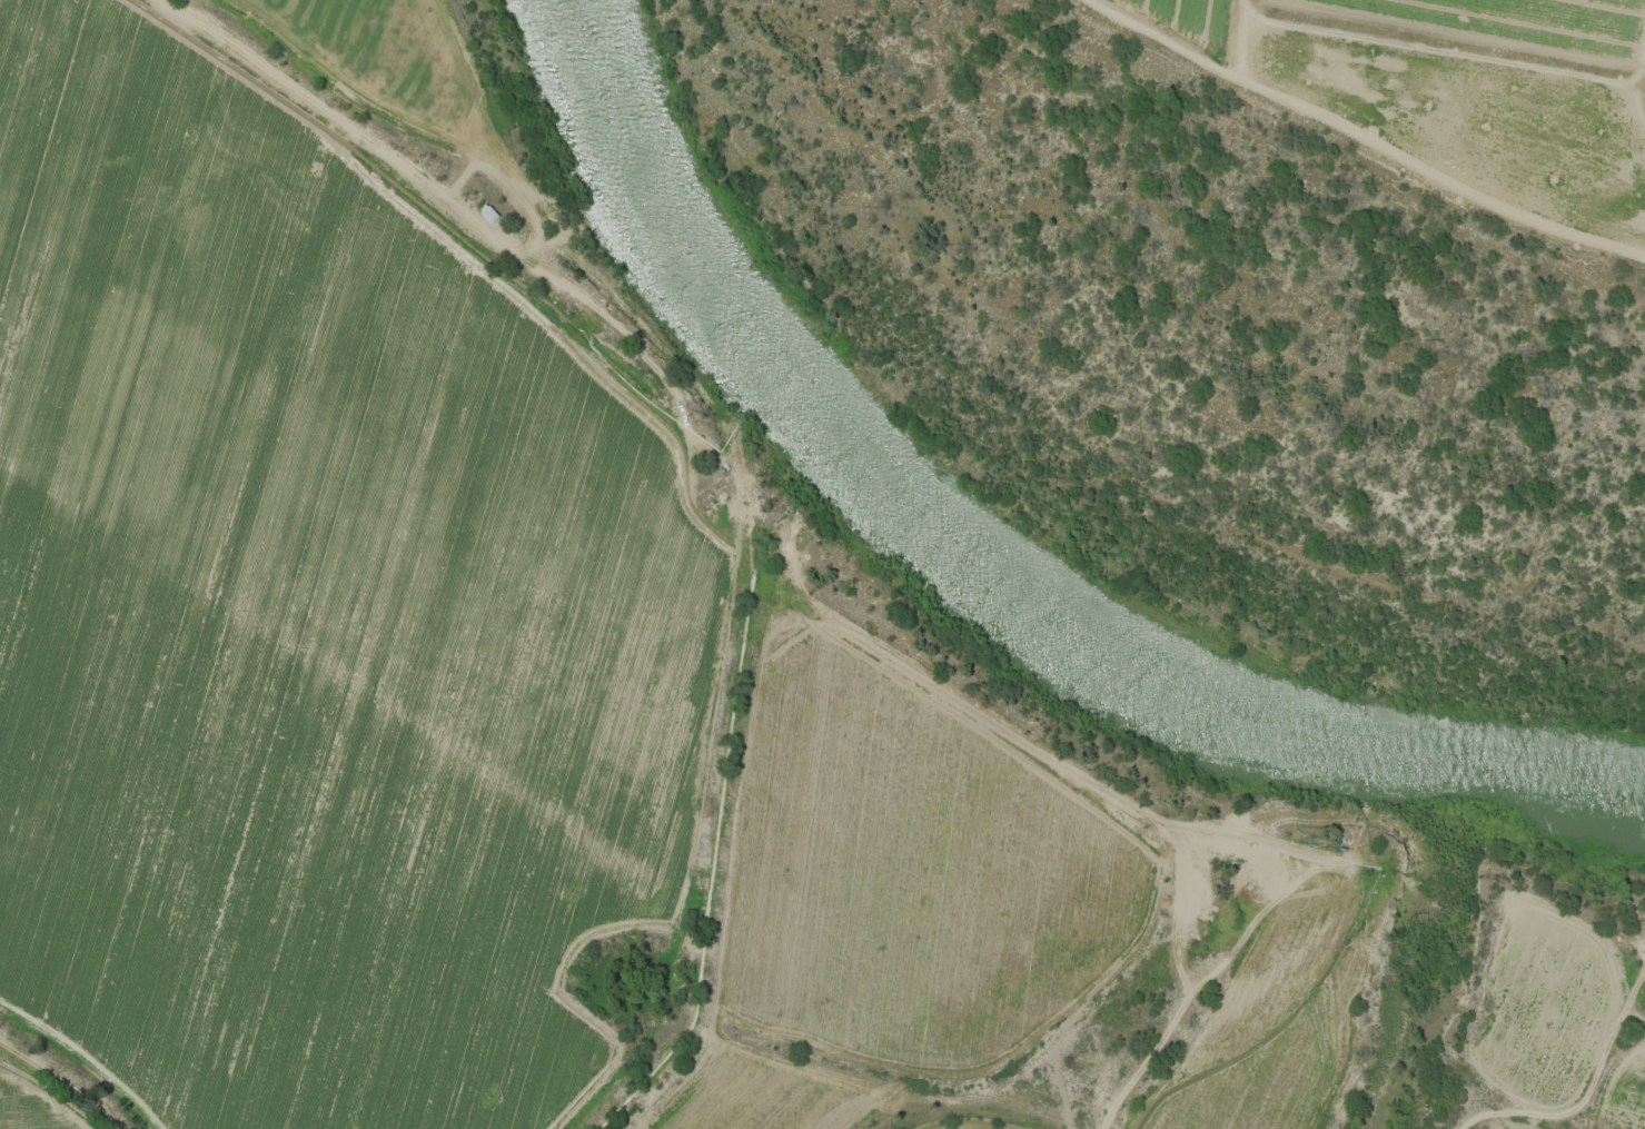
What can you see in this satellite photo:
river: (982, 562)

